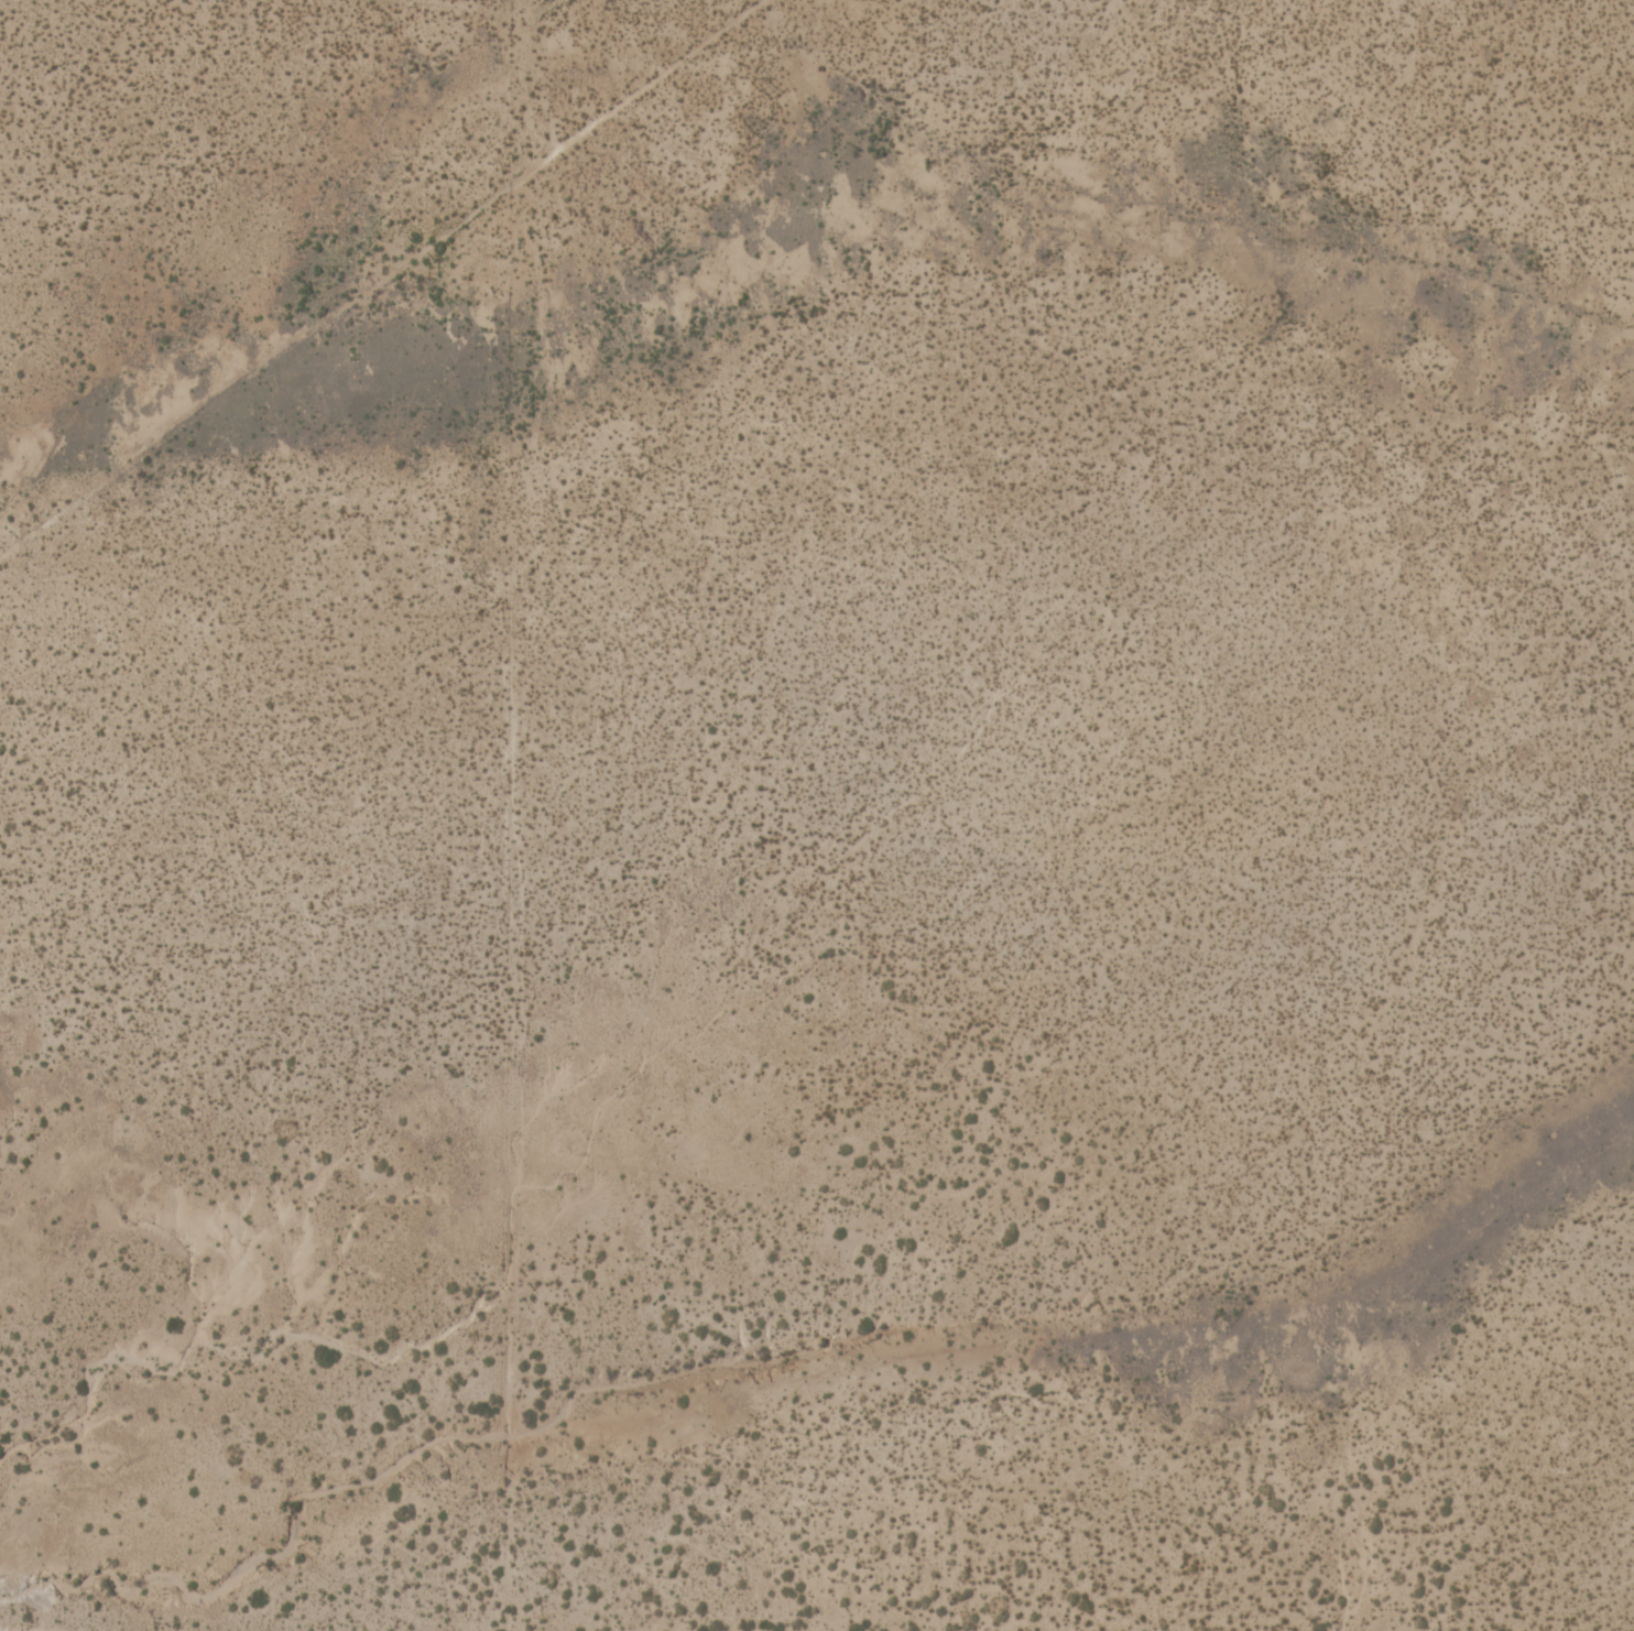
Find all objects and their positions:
road: (427, 20)

